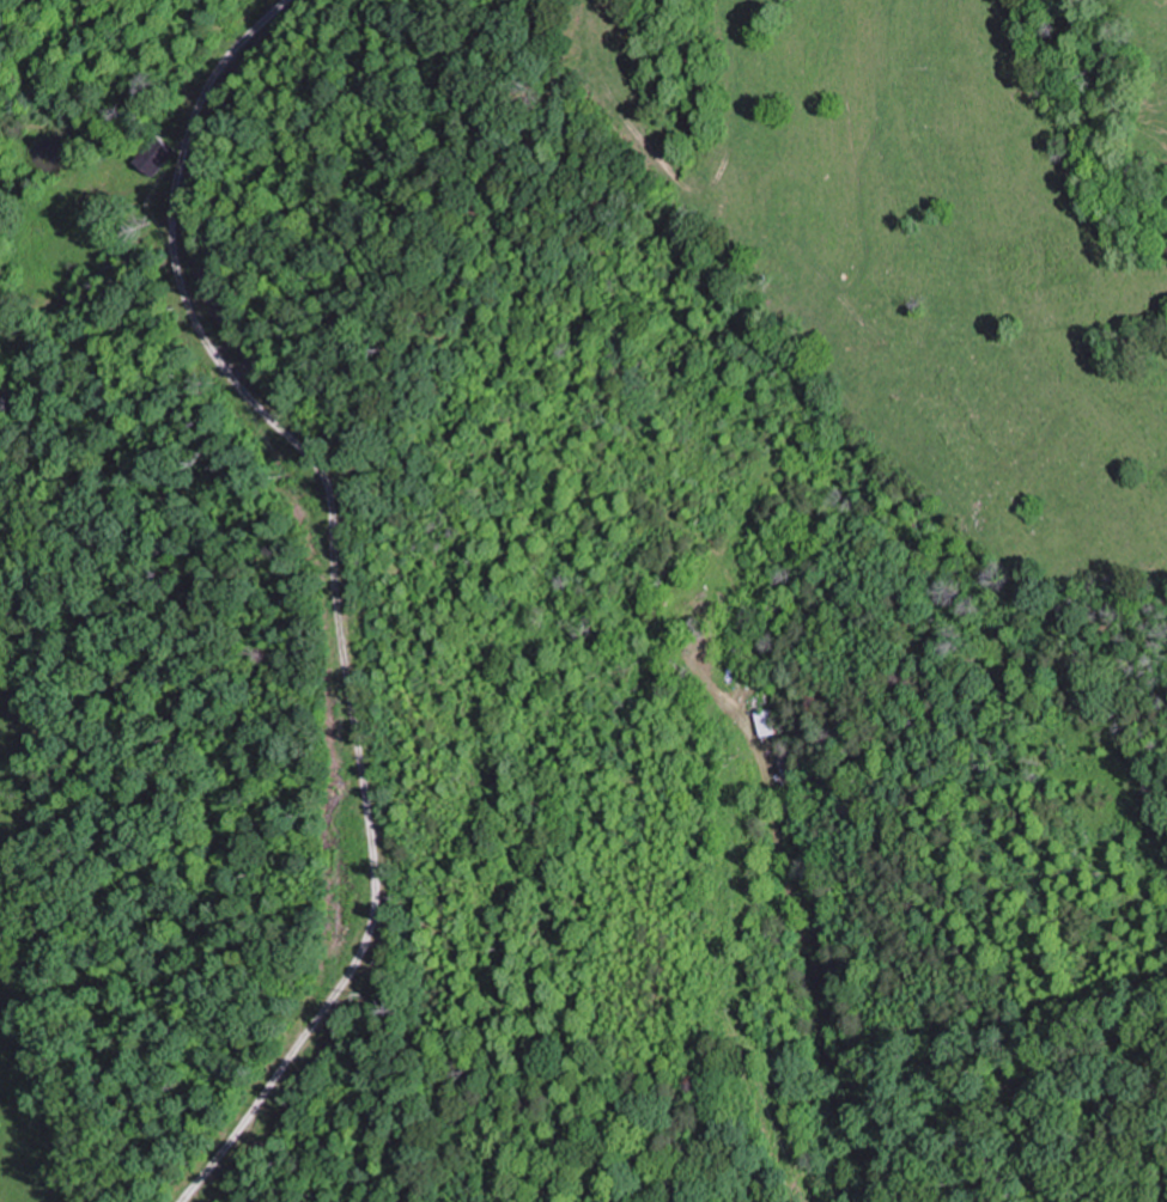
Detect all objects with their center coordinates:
building: (154, 155)
road: (32, 417)
building: (766, 724)
road: (840, 905)

